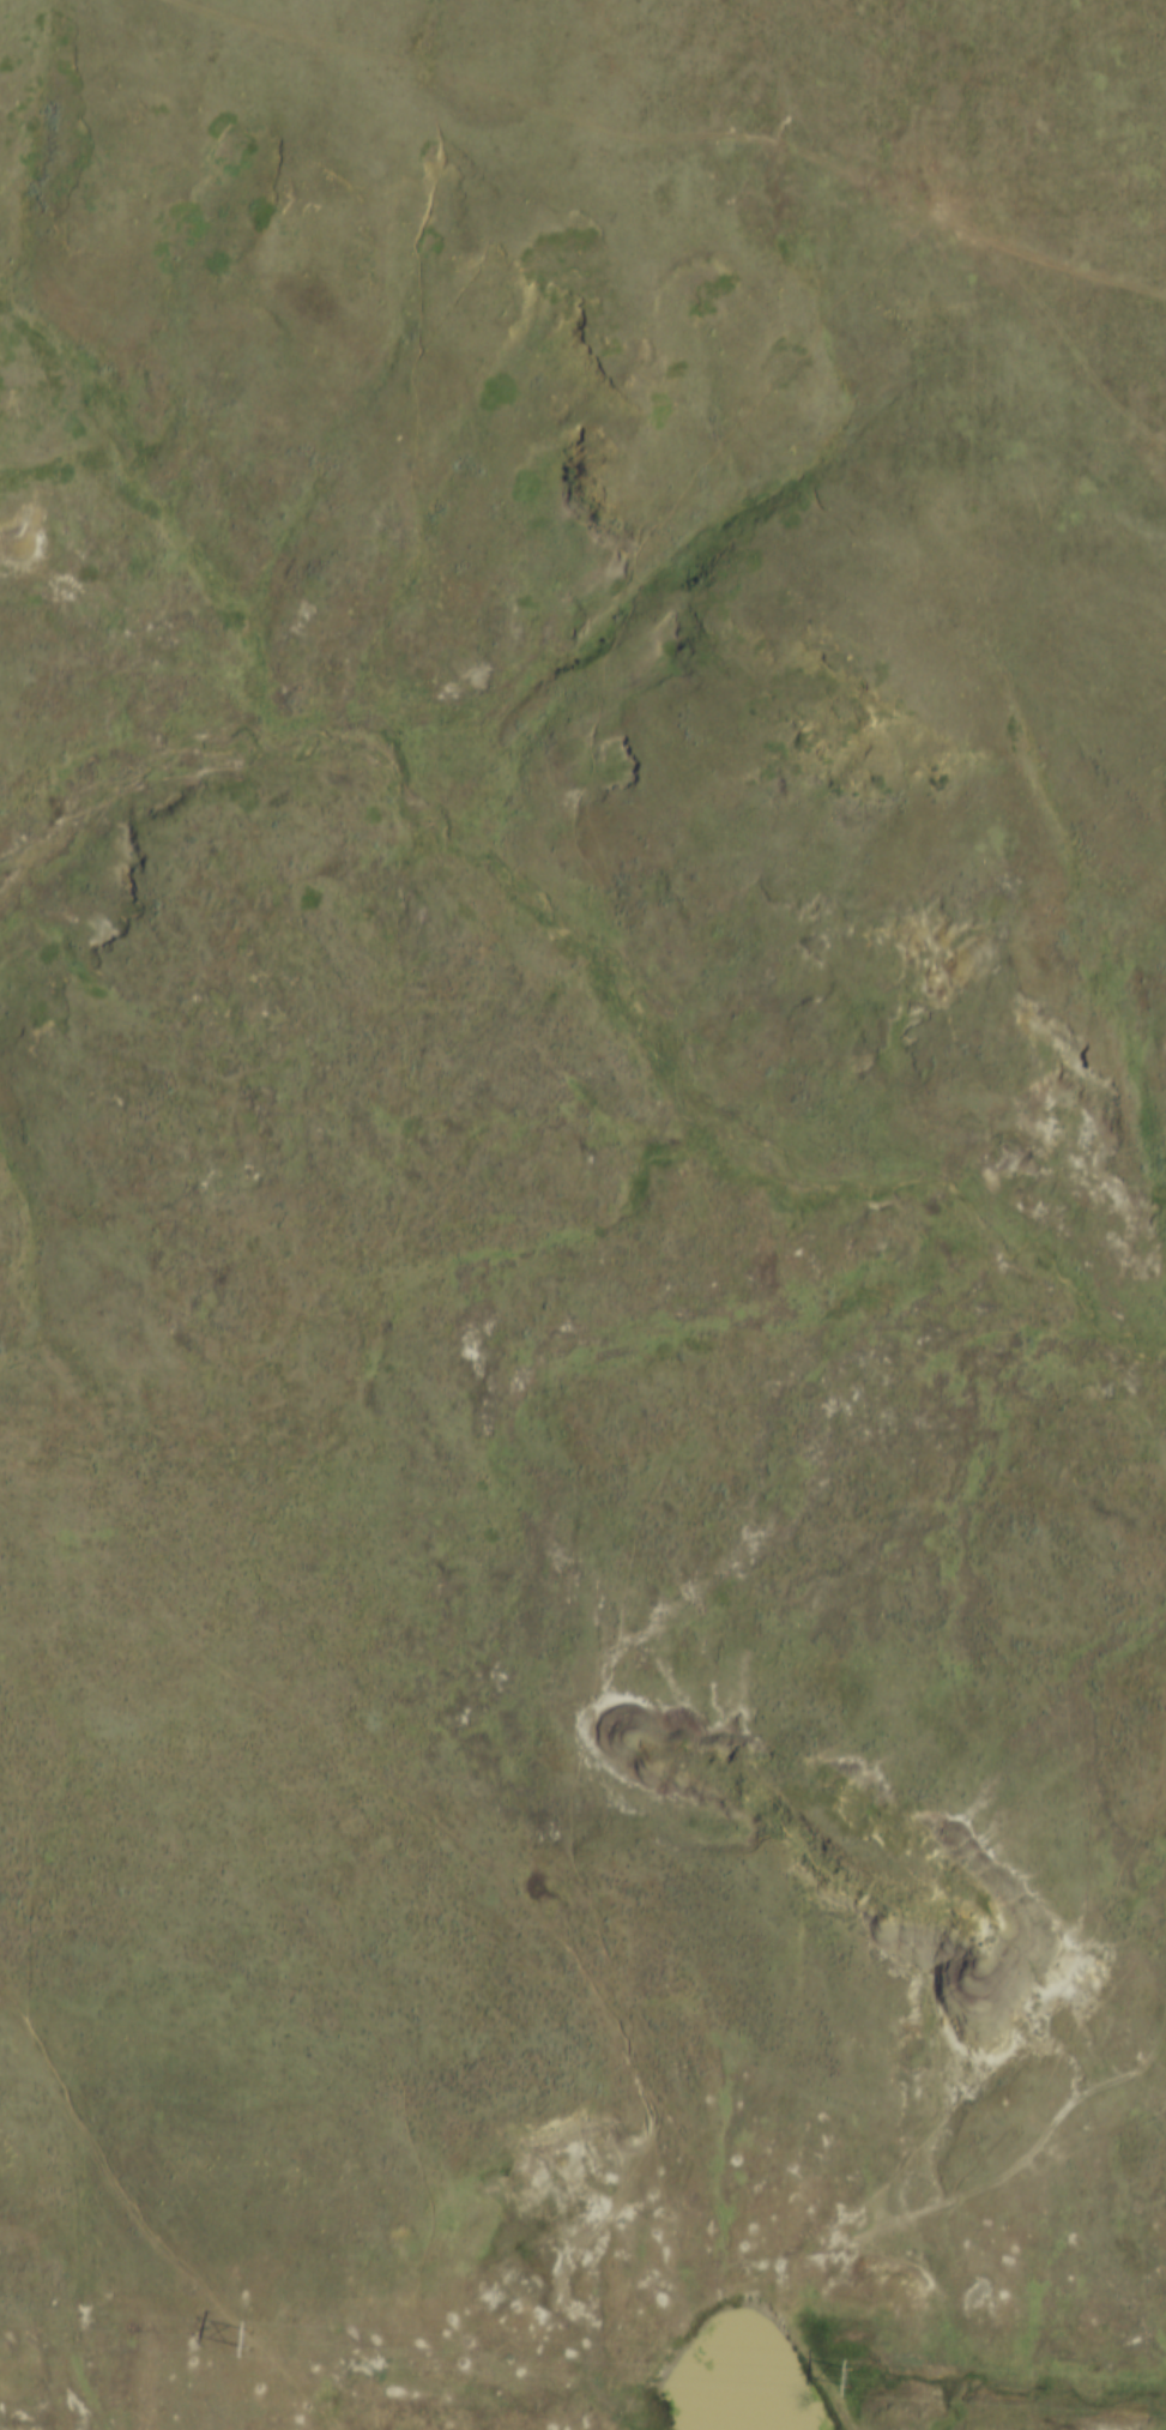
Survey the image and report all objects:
road: (670, 140)
power tower: (248, 2339)
power tower: (850, 2380)

